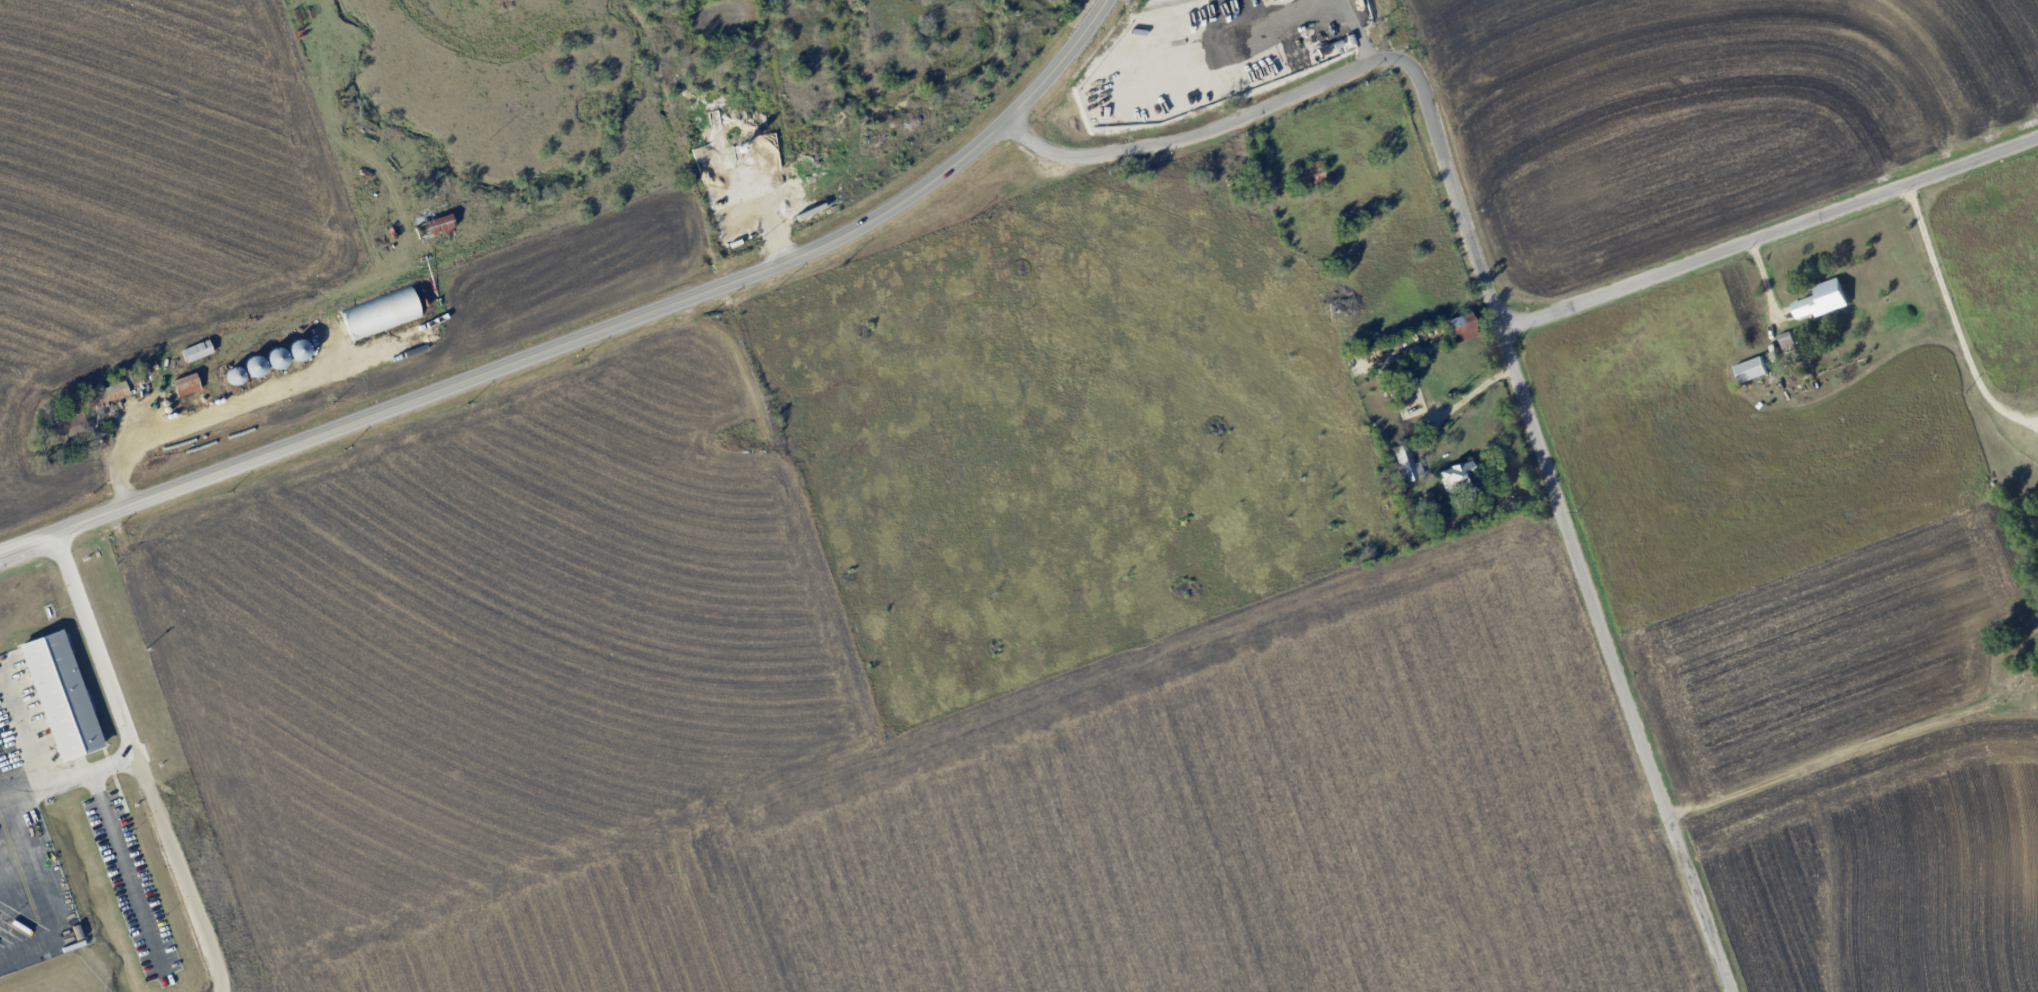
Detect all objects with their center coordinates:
road: (1771, 233)
building: (1821, 300)
building: (377, 313)
road: (1950, 319)
road: (1501, 322)
building: (1458, 327)
road: (591, 332)
building: (1750, 370)
building: (183, 384)
road: (1468, 400)
road: (122, 443)
building: (1403, 462)
building: (1453, 474)
road: (105, 685)
building: (64, 695)
road: (21, 734)
road: (1841, 756)
road: (1, 802)
road: (29, 875)
road: (127, 875)

